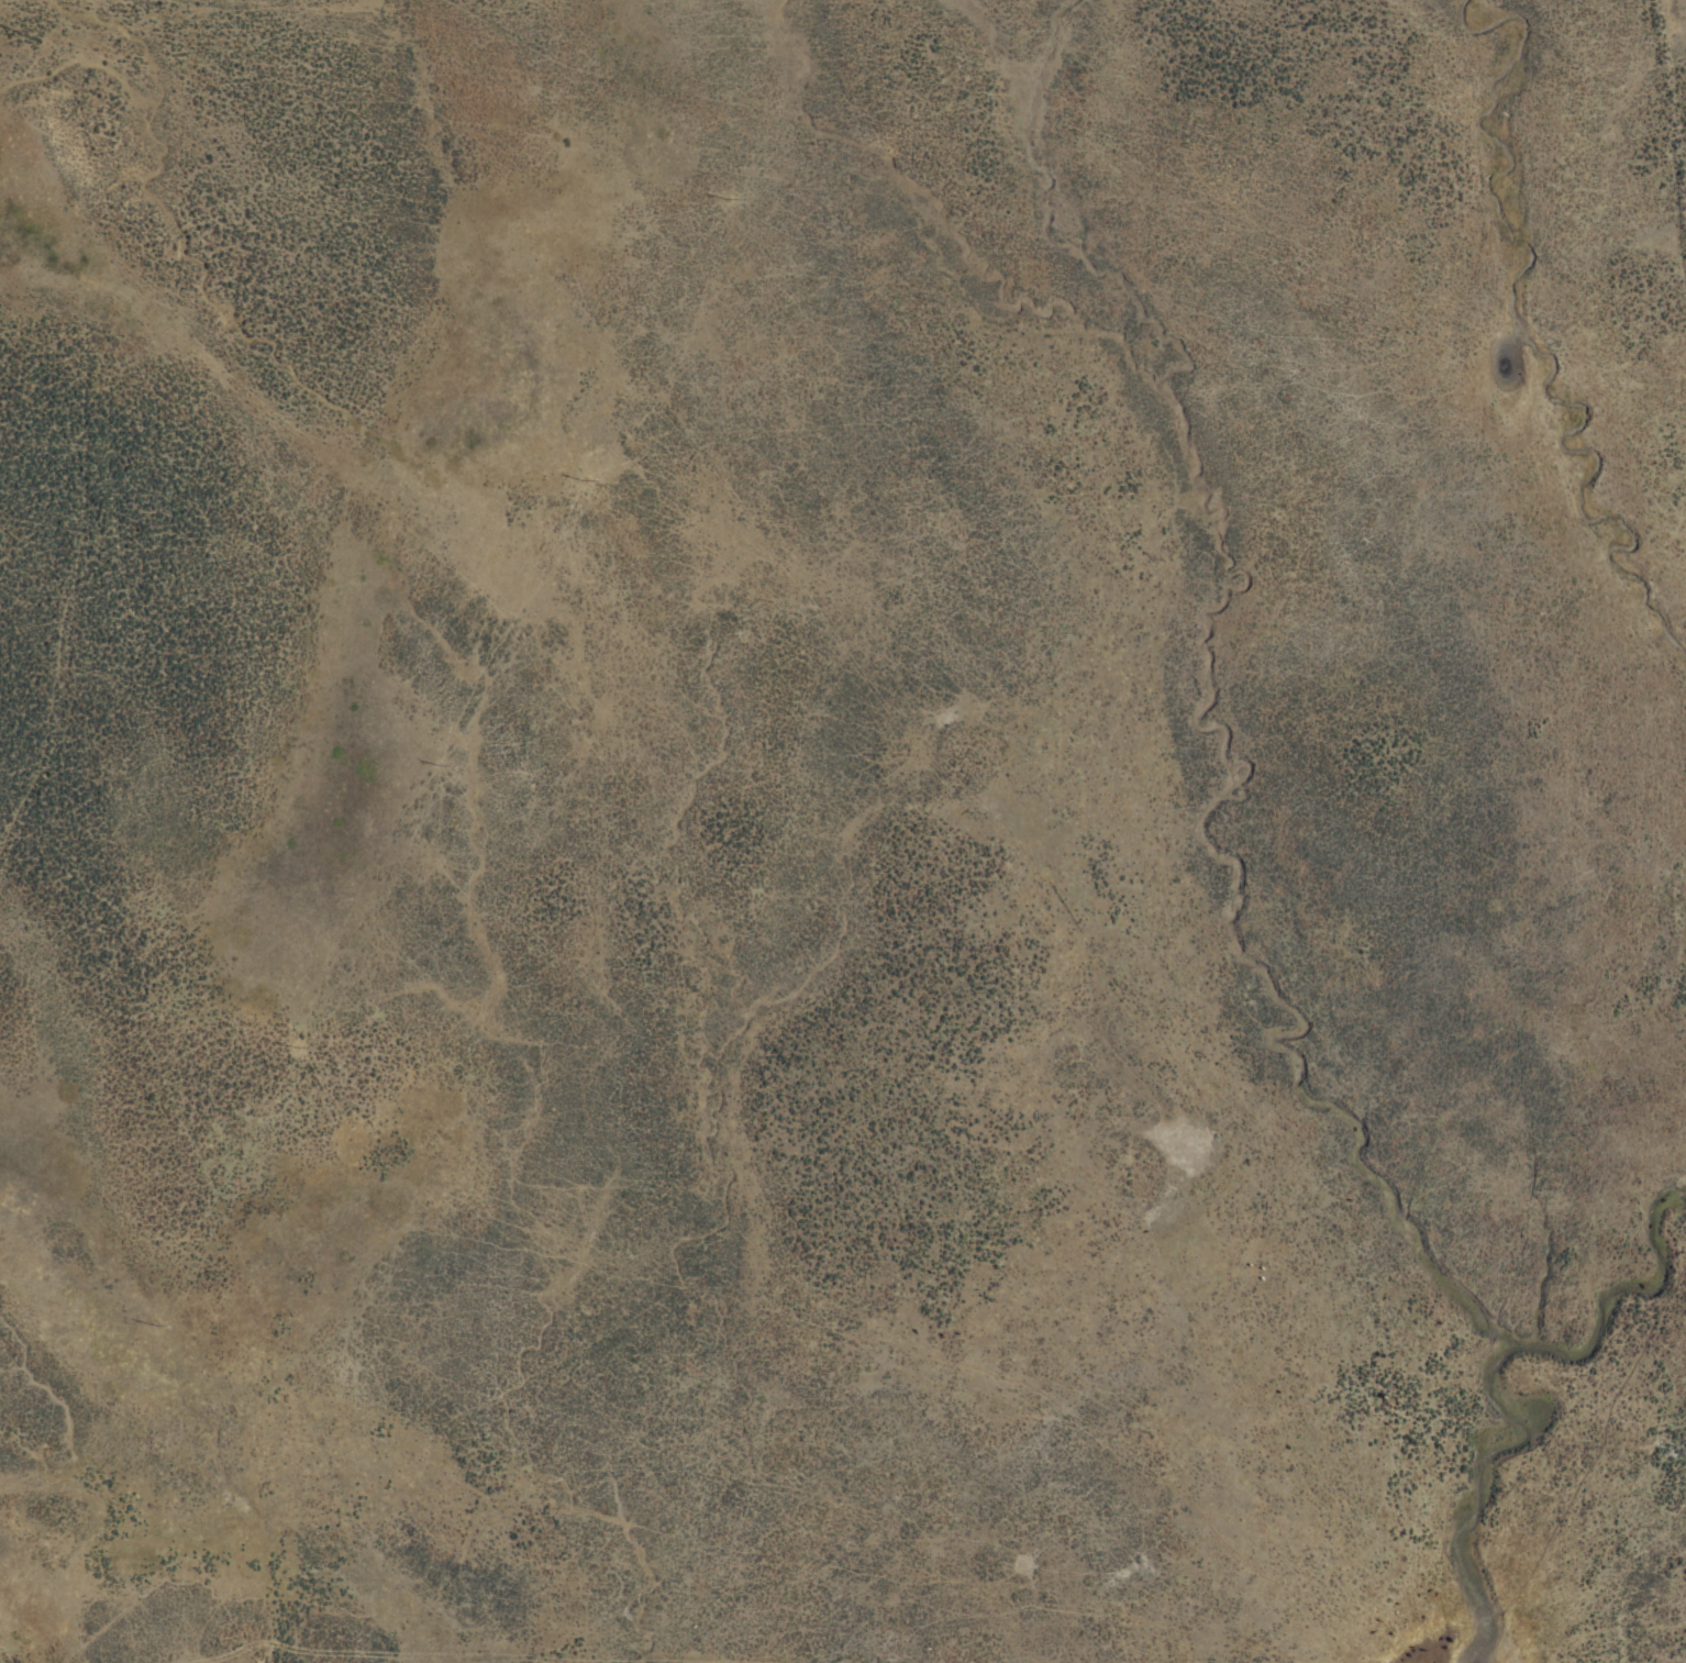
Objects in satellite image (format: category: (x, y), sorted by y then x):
crop: (848, 835)

